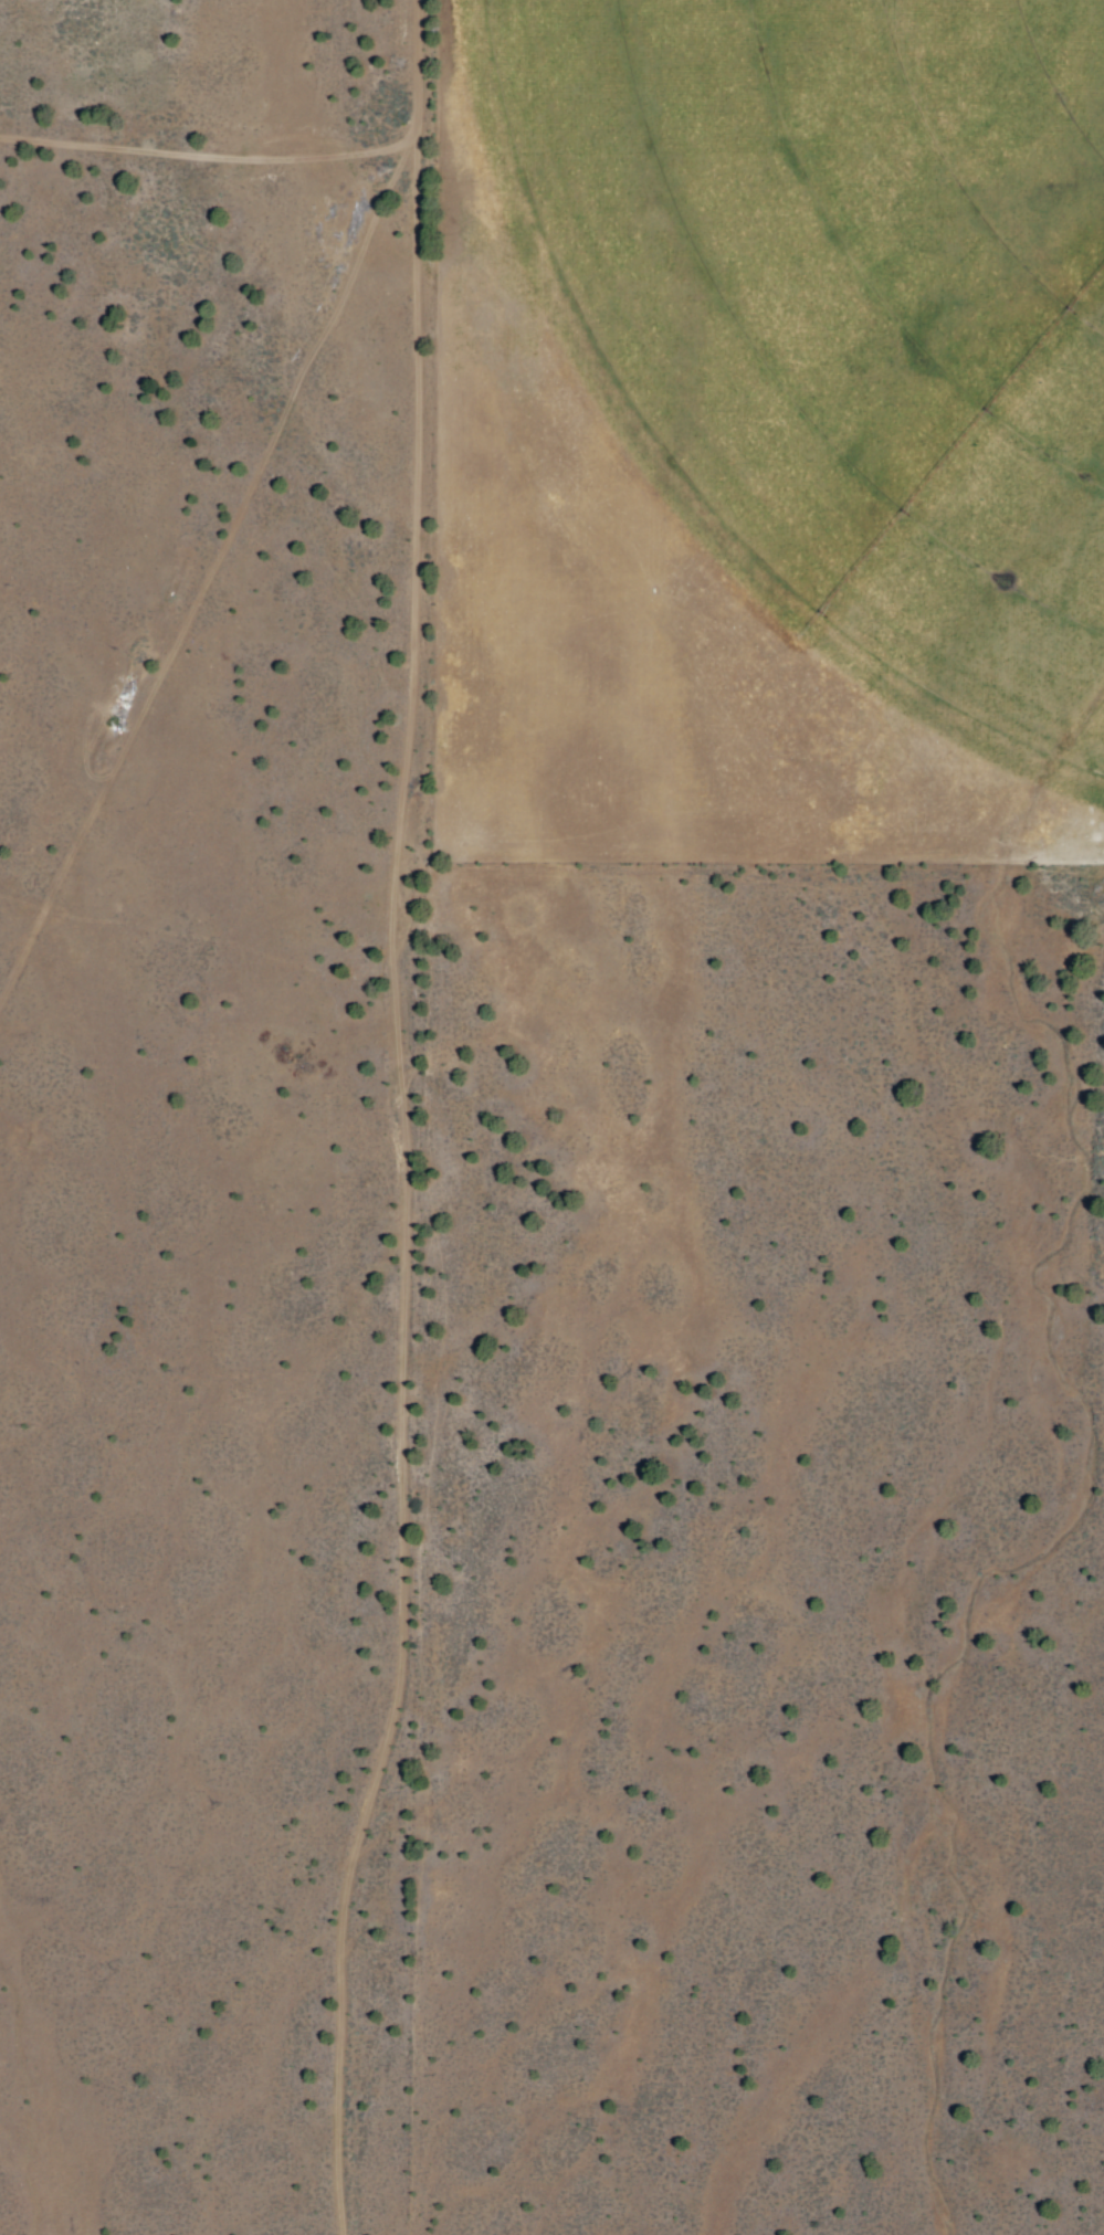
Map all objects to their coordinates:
crop: (822, 355)
road: (236, 509)
road: (407, 1176)

